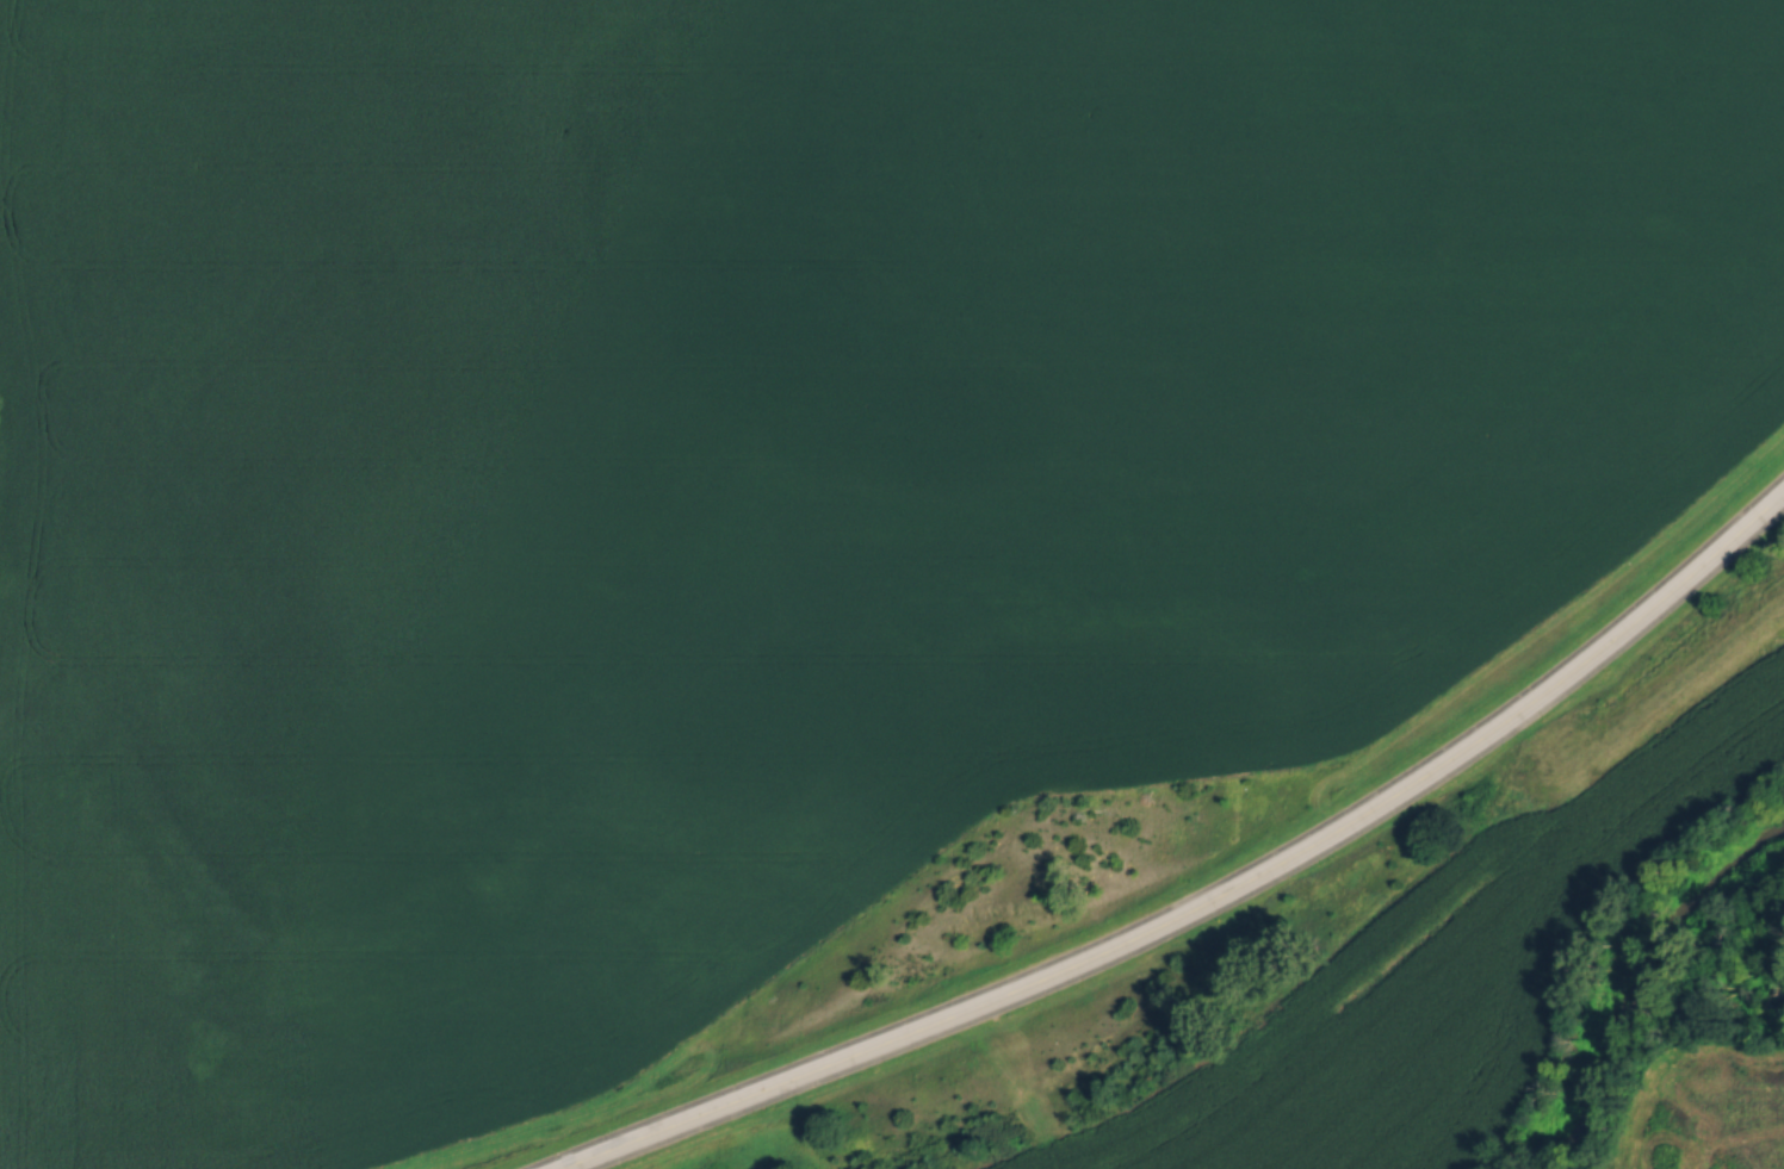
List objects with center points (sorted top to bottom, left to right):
road: (1218, 901)

